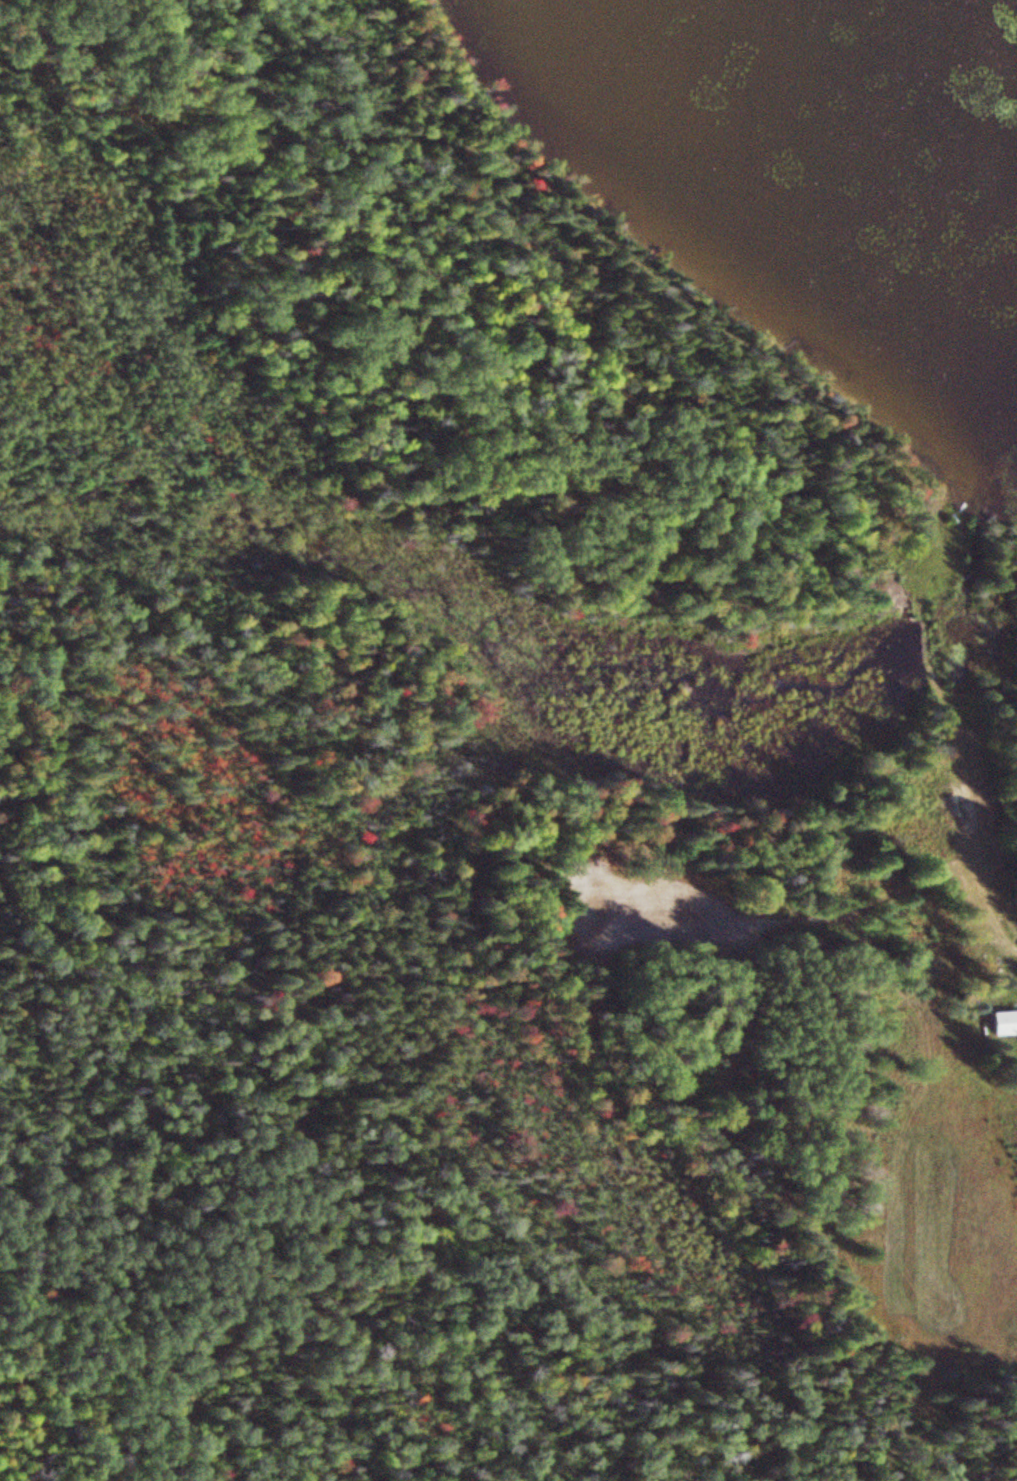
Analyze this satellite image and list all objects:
building: (1006, 1023)

